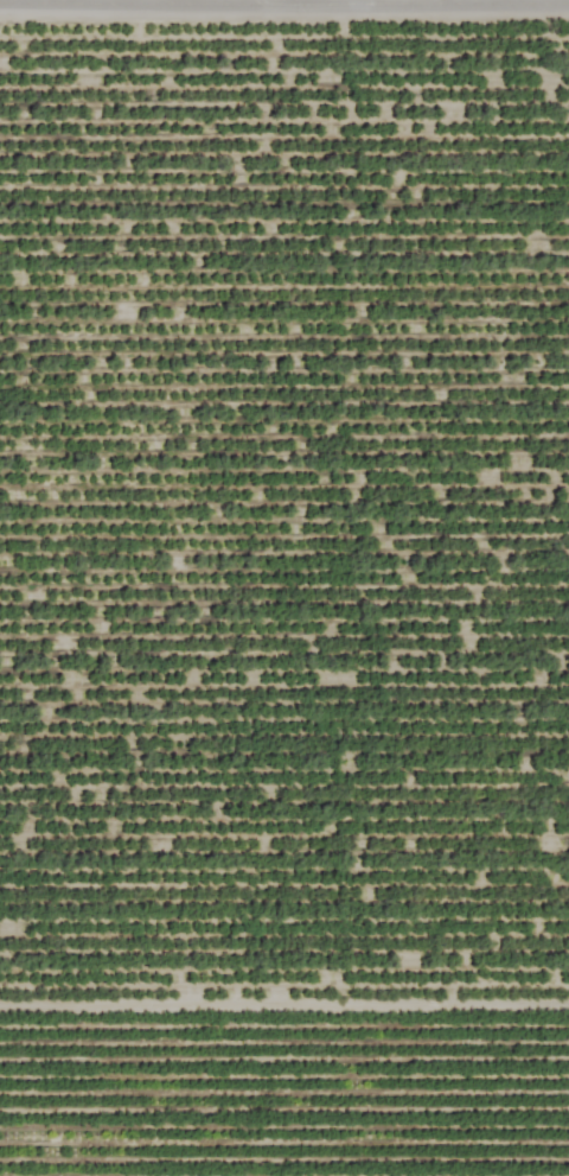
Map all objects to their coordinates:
road: (68, 0)
crop: (284, 587)

